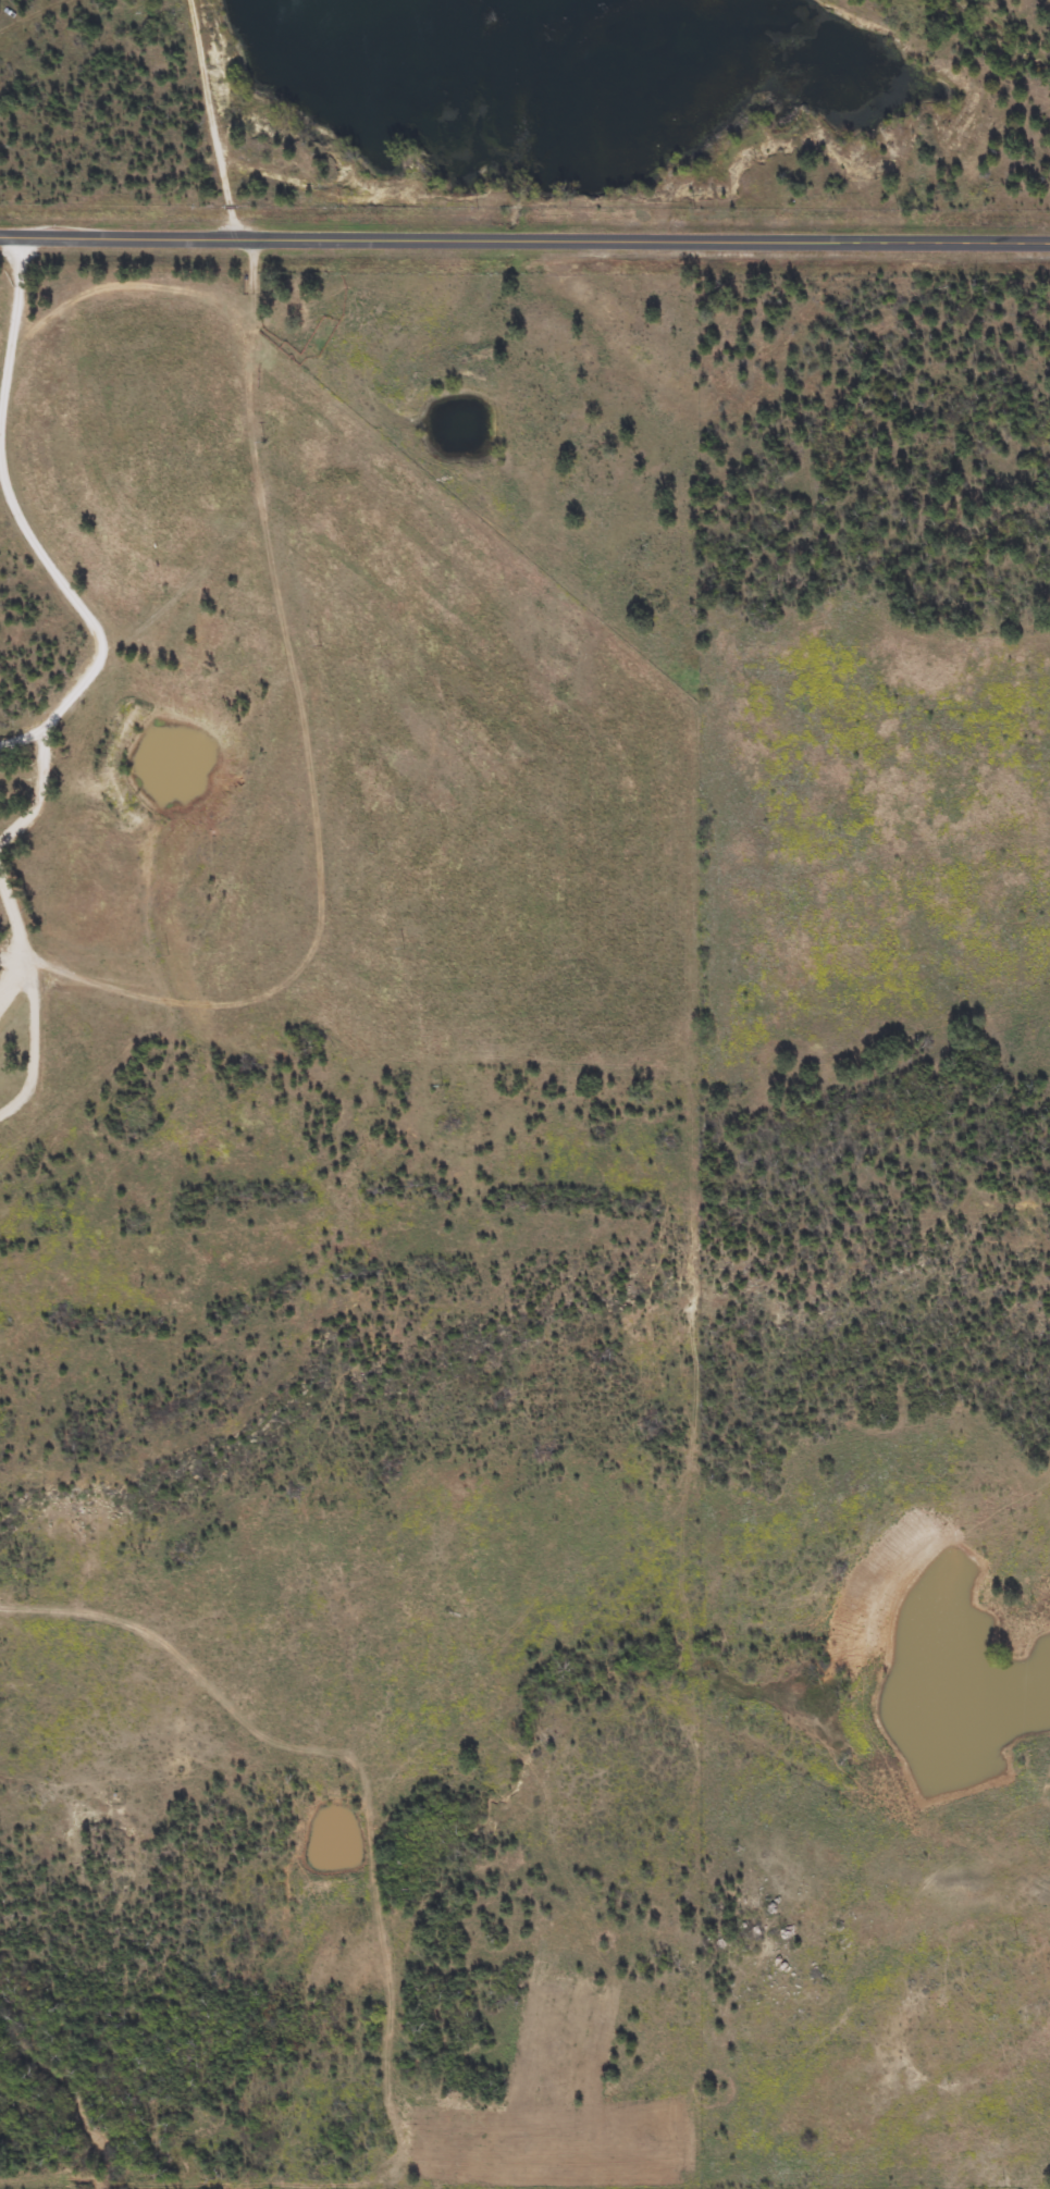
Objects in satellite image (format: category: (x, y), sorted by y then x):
road: (524, 244)

